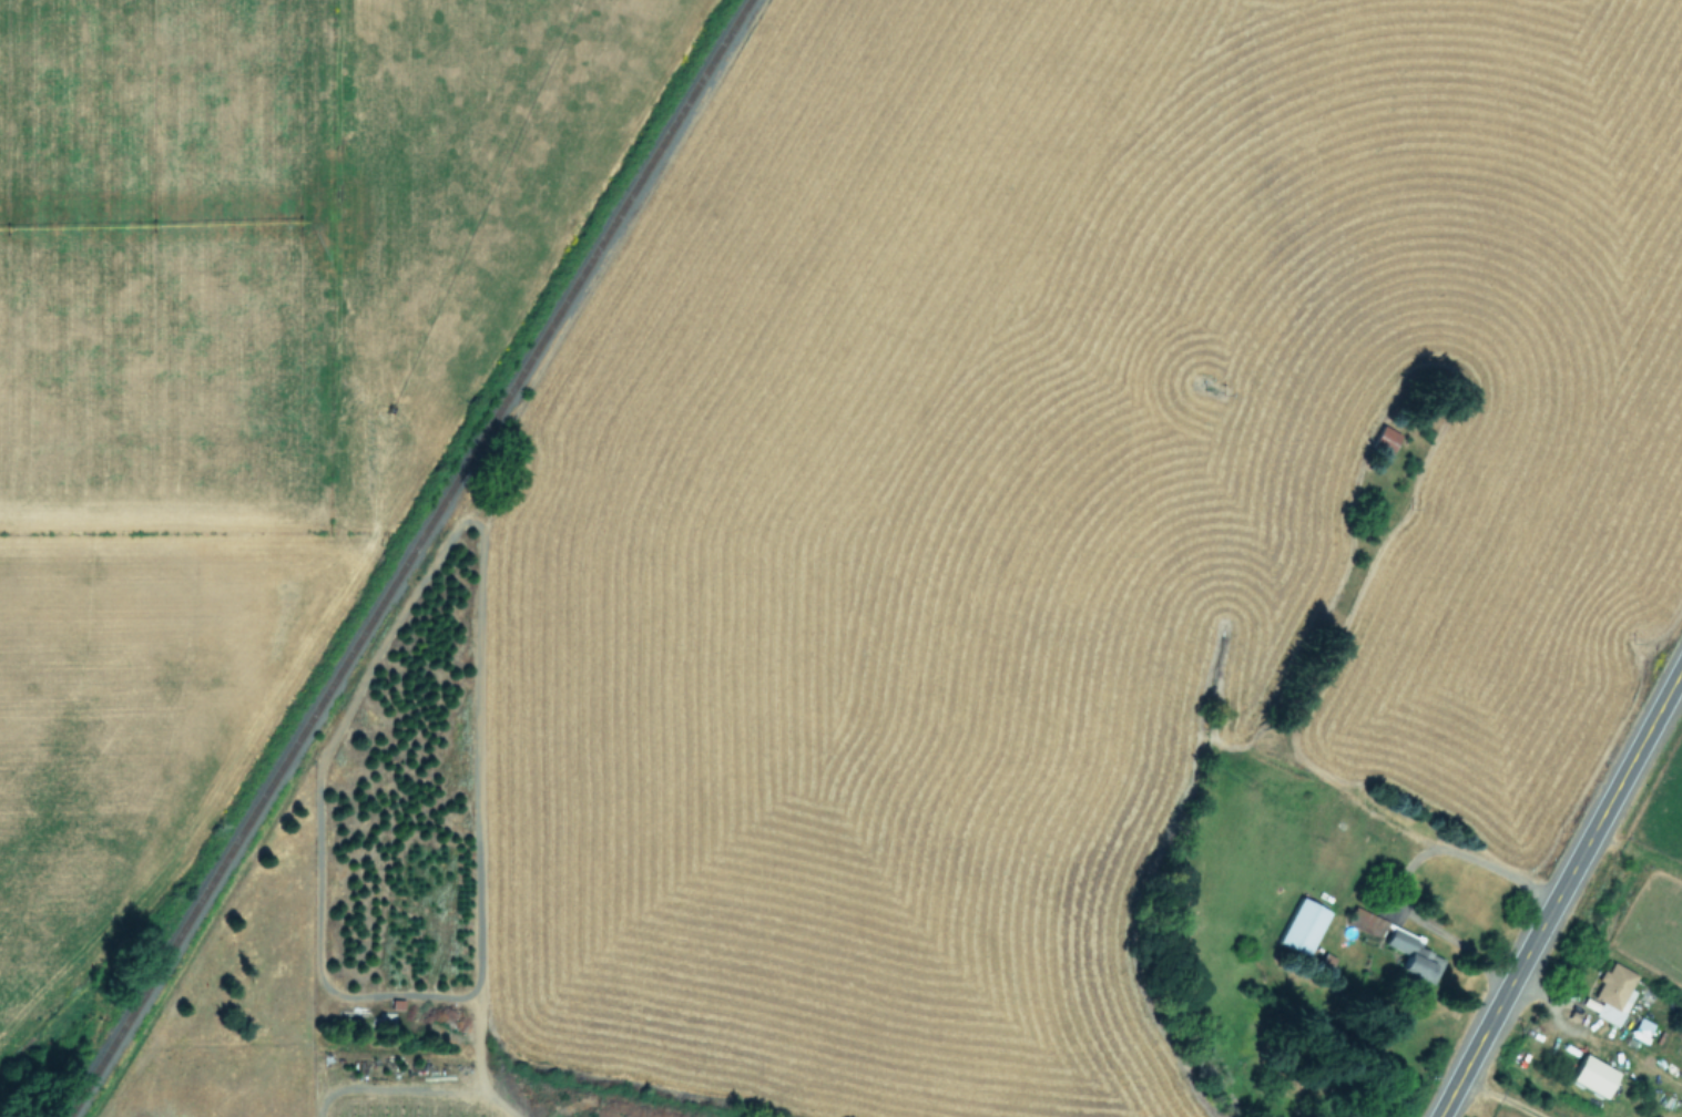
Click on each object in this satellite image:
building: (1383, 442)
railway: (406, 558)
crop: (840, 558)
road: (1681, 674)
road: (1559, 893)
building: (1301, 928)
building: (1400, 950)
building: (1612, 994)
road: (476, 1035)
building: (1589, 1076)

